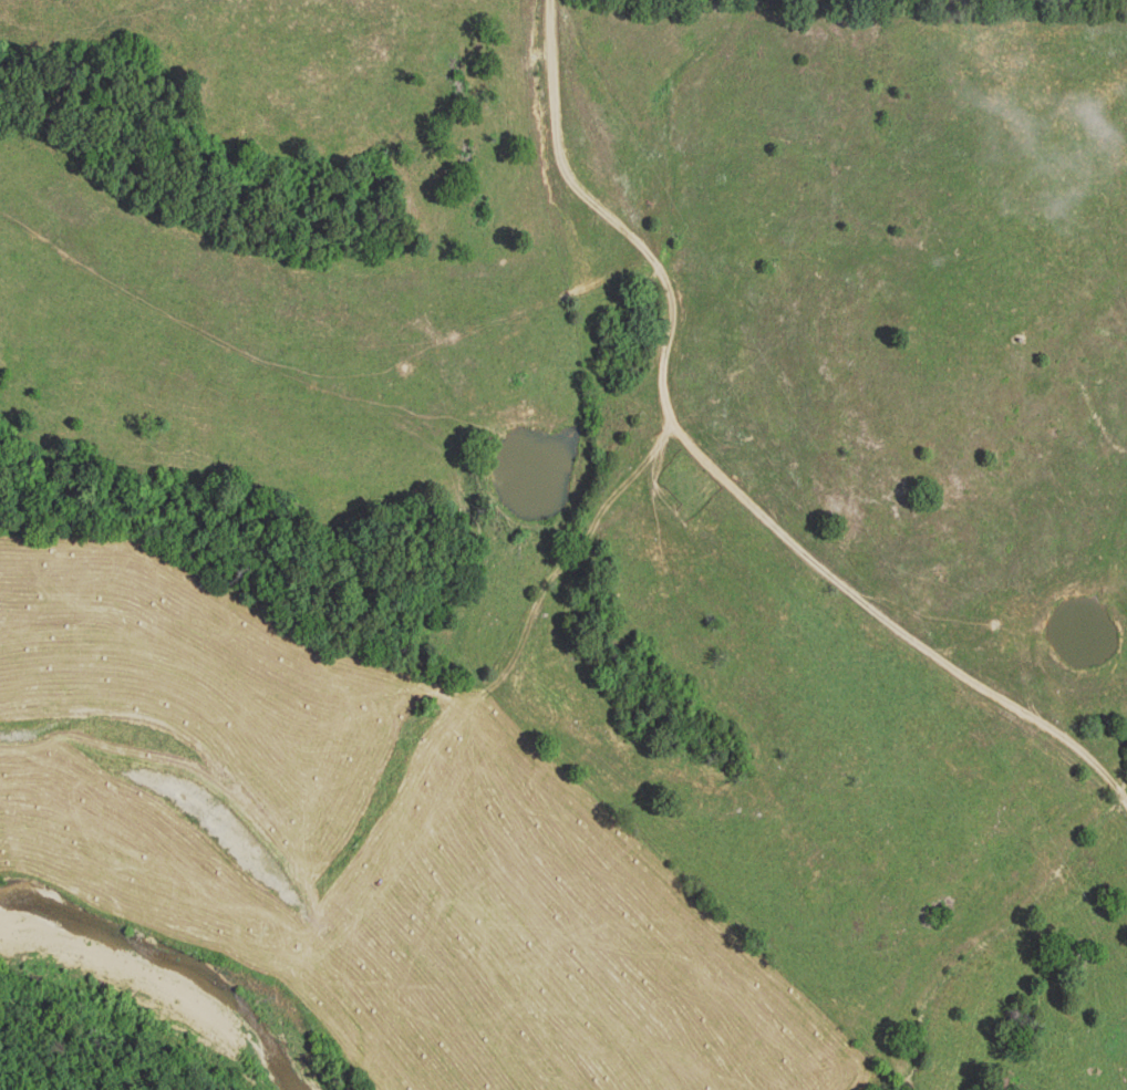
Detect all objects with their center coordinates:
road: (721, 479)

